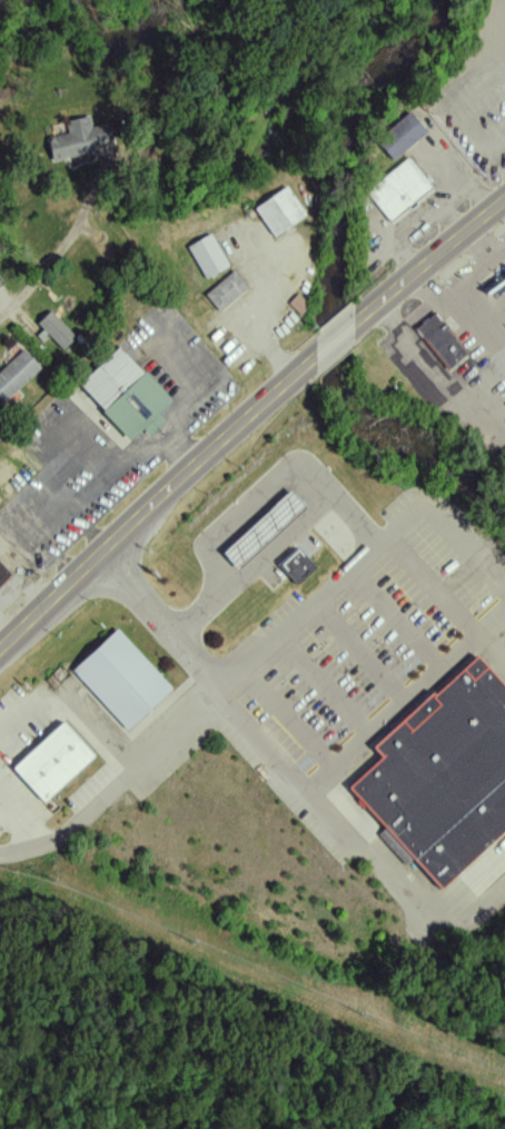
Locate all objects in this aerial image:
road: (502, 131)
building: (397, 136)
building: (77, 139)
building: (397, 189)
road: (499, 205)
building: (278, 211)
building: (206, 256)
road: (502, 257)
road: (487, 269)
building: (502, 277)
road: (29, 284)
building: (224, 290)
road: (458, 318)
road: (266, 321)
building: (55, 329)
building: (434, 344)
building: (16, 374)
road: (432, 376)
building: (121, 394)
road: (244, 420)
road: (245, 511)
building: (268, 528)
road: (277, 542)
road: (368, 564)
building: (300, 565)
building: (2, 574)
road: (446, 605)
road: (398, 623)
road: (161, 624)
parking lot: (354, 650)
road: (362, 657)
building: (126, 677)
road: (324, 692)
road: (409, 702)
road: (293, 721)
road: (2, 741)
building: (57, 761)
building: (444, 778)
road: (120, 792)
road: (22, 826)
road: (363, 848)

